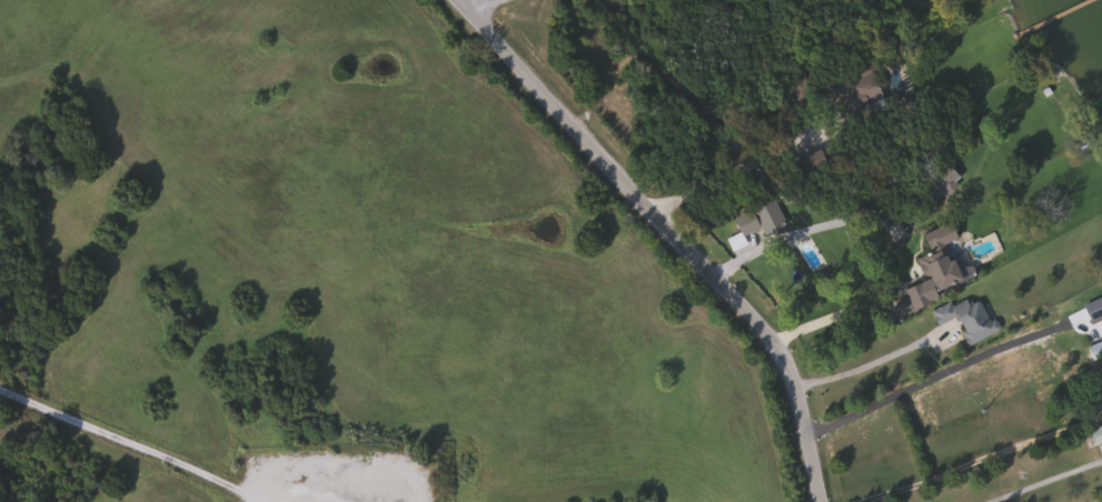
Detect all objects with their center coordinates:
road: (474, 4)
road: (745, 165)
building: (934, 187)
building: (755, 224)
road: (672, 232)
road: (790, 234)
building: (927, 288)
road: (827, 317)
building: (966, 317)
road: (862, 363)
building: (1098, 436)
road: (130, 440)
road: (966, 464)
road: (1041, 481)

